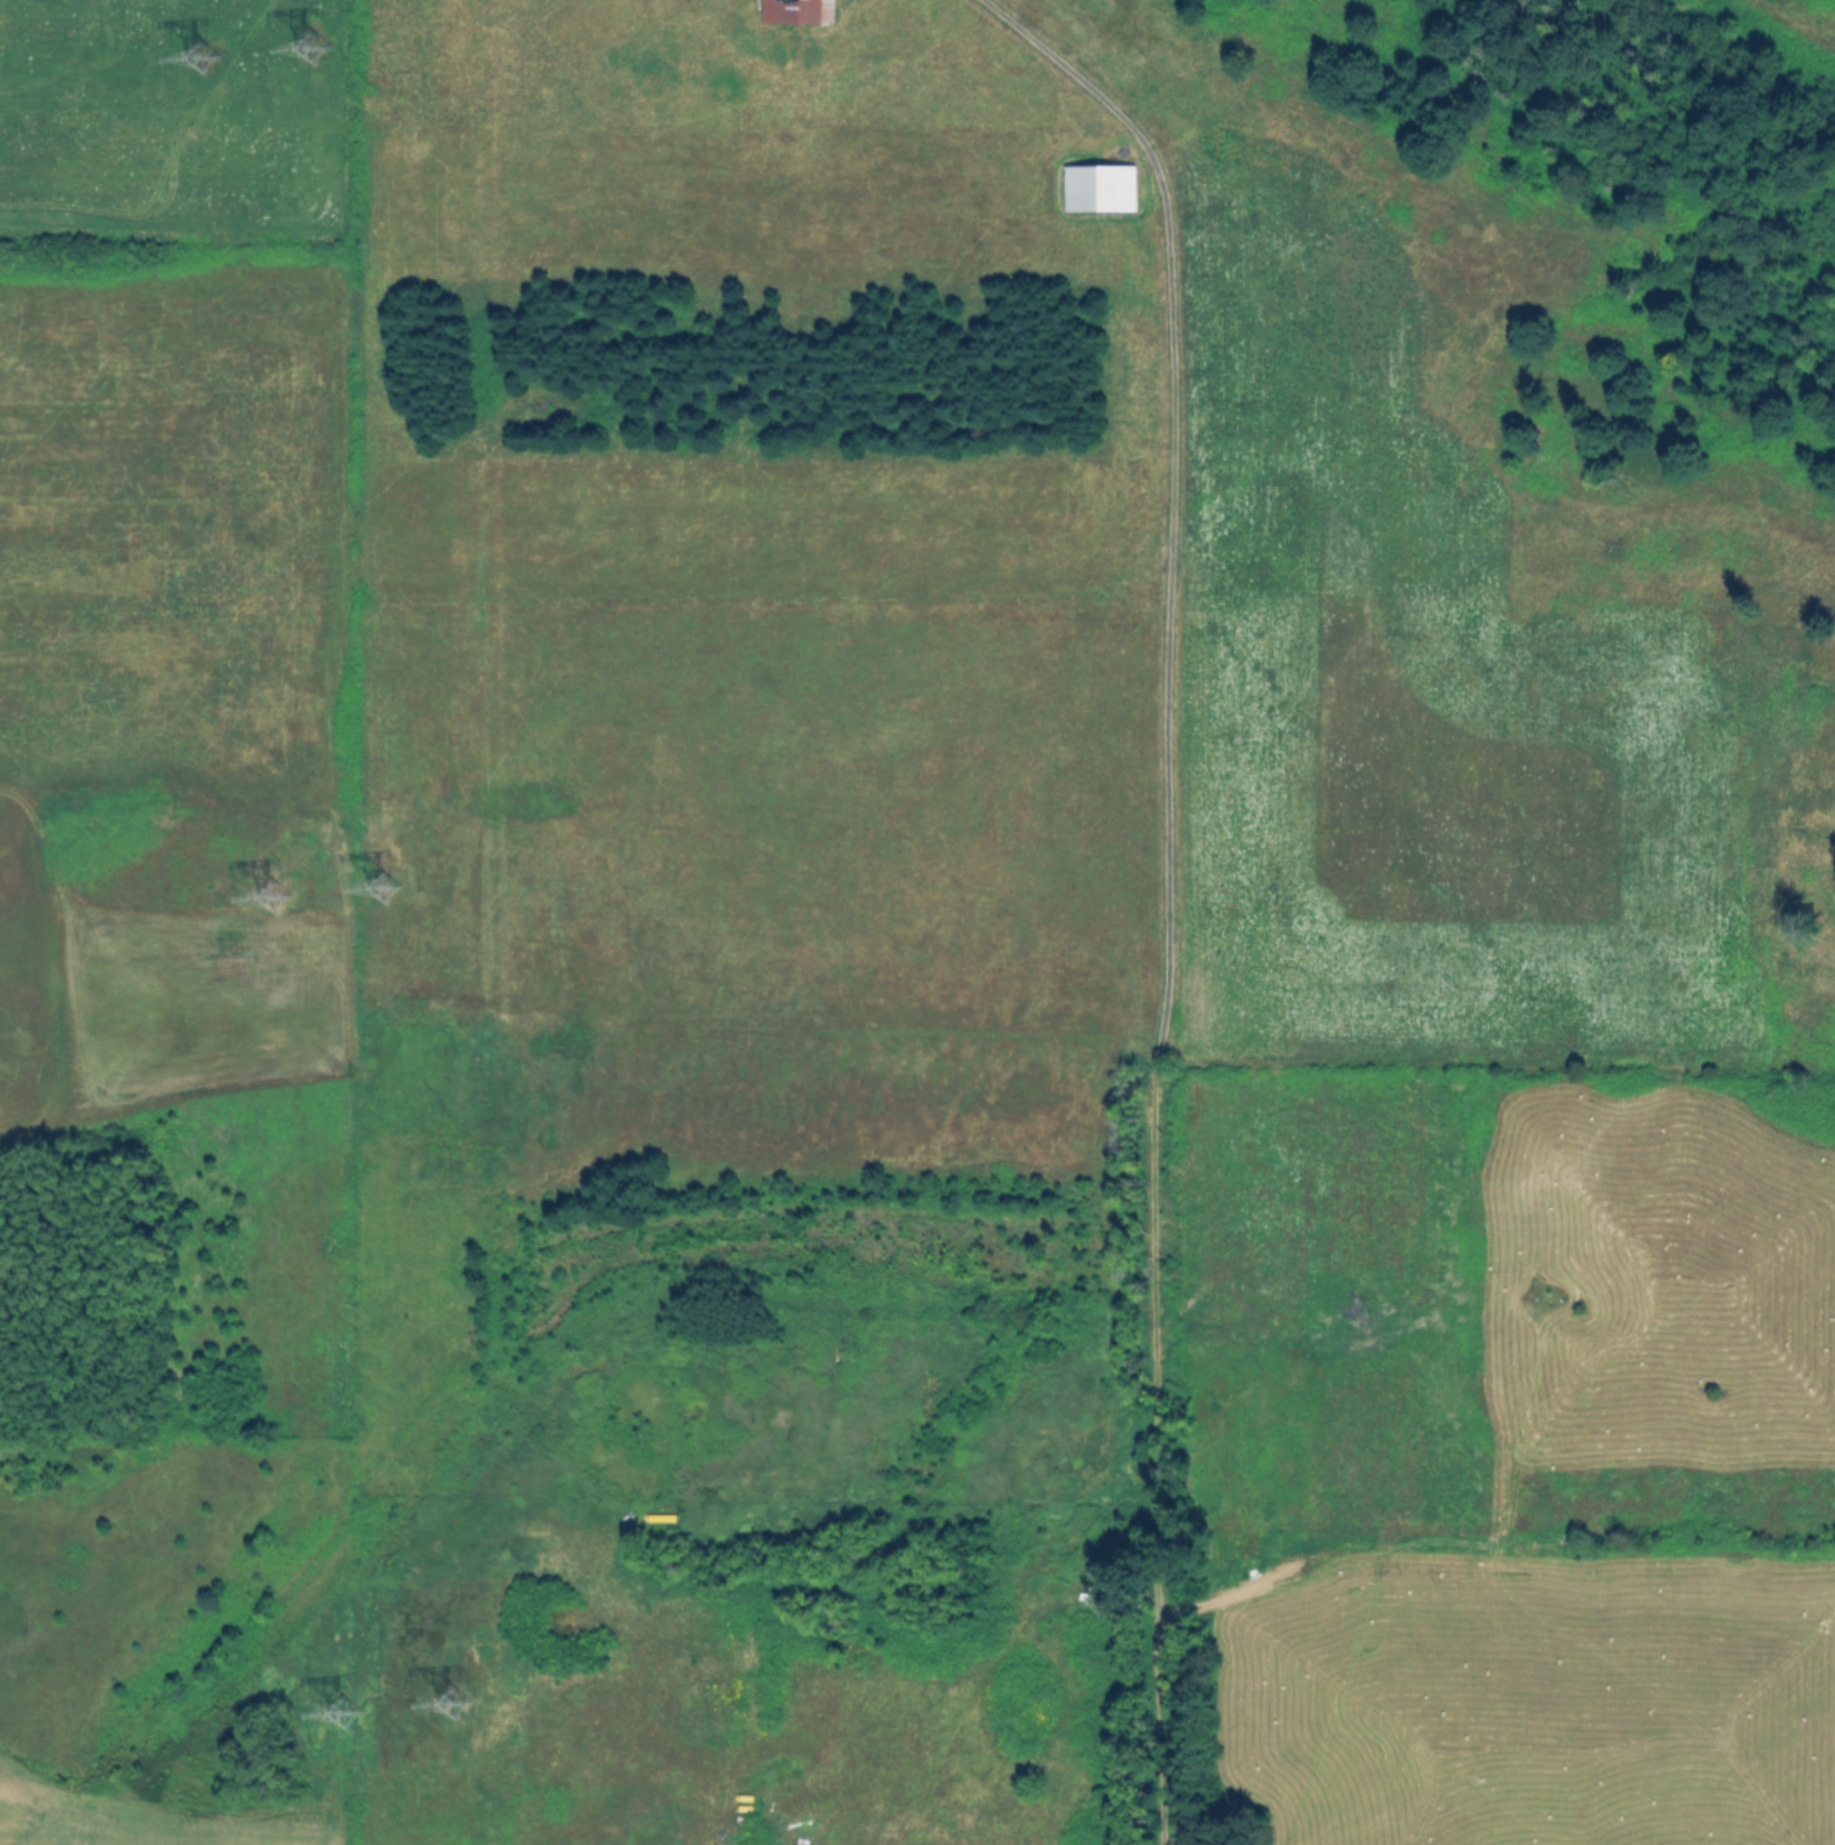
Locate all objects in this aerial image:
building: (796, 11)
power tower: (292, 53)
power tower: (187, 64)
building: (1098, 187)
road: (1172, 484)
power tower: (365, 894)
power tower: (257, 909)
power tower: (446, 1719)
power tower: (321, 1727)

